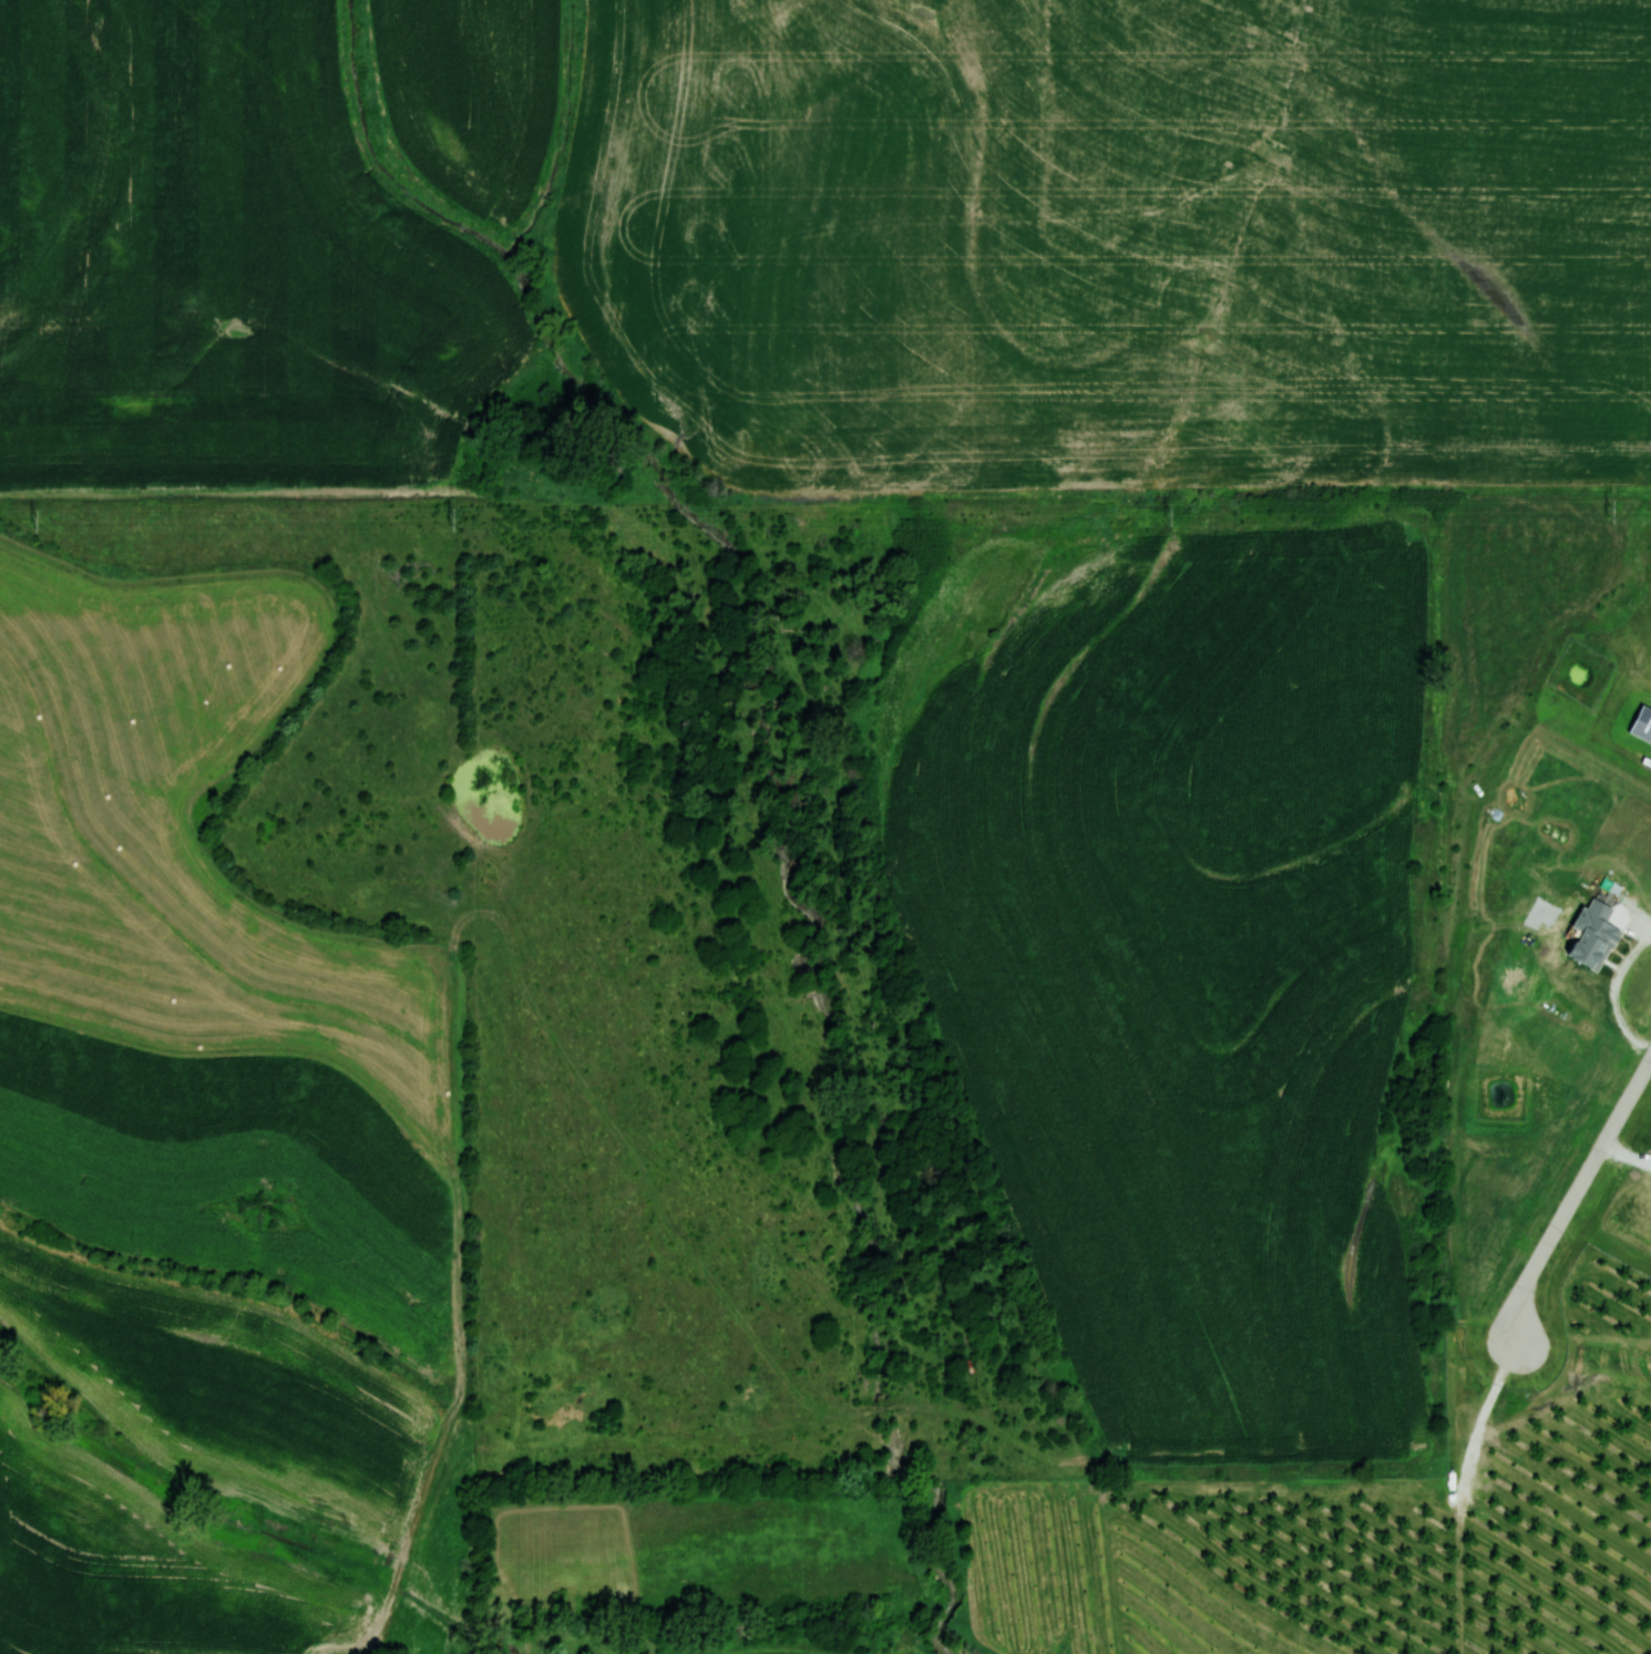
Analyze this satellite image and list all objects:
power tower: (1609, 513)
power tower: (1167, 515)
power tower: (450, 518)
power tower: (42, 522)
road: (1571, 1201)

